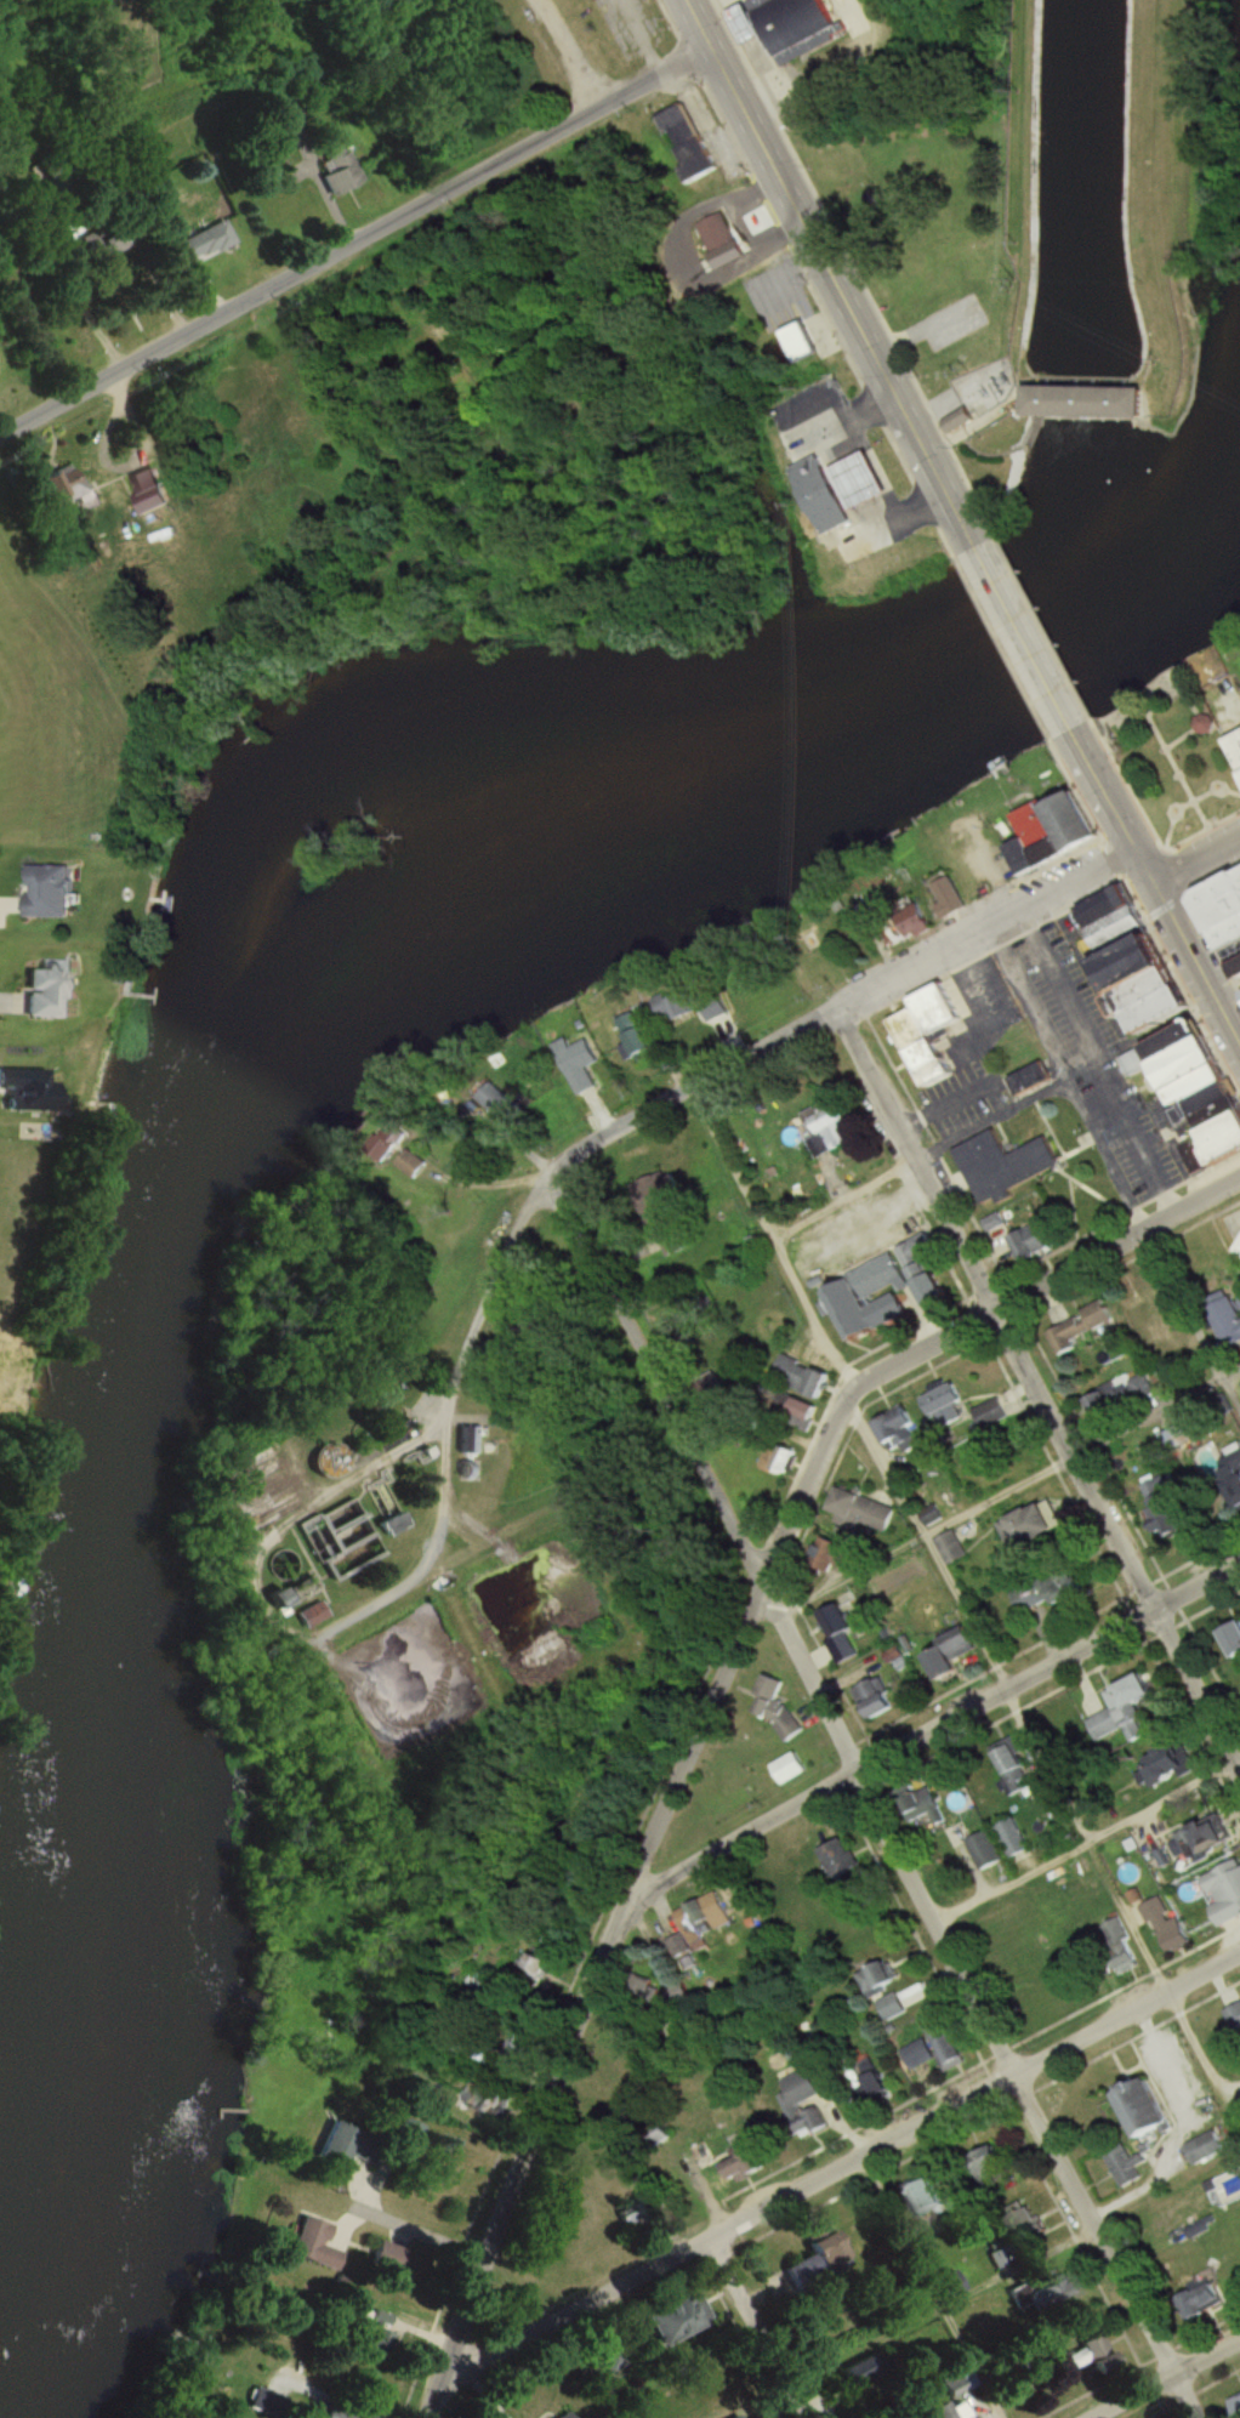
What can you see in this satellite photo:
building: (787, 25)
road: (639, 40)
road: (565, 57)
building: (294, 115)
building: (687, 143)
building: (342, 173)
road: (322, 187)
building: (716, 234)
building: (103, 243)
building: (205, 243)
road: (355, 248)
road: (824, 266)
building: (802, 337)
crop: (8, 365)
building: (1081, 393)
building: (864, 480)
building: (67, 488)
building: (825, 494)
building: (152, 500)
road: (1020, 635)
building: (1204, 726)
building: (1236, 744)
road: (1105, 792)
building: (1057, 834)
road: (1194, 849)
building: (47, 891)
building: (950, 898)
road: (5, 901)
building: (1227, 917)
road: (1187, 948)
building: (1141, 963)
building: (49, 990)
road: (1227, 992)
road: (5, 1002)
building: (677, 1005)
road: (834, 1013)
building: (925, 1026)
building: (638, 1036)
road: (1090, 1063)
building: (584, 1069)
building: (1198, 1094)
road: (1003, 1113)
building: (831, 1128)
river: (198, 1132)
building: (1000, 1160)
building: (411, 1164)
road: (843, 1199)
road: (770, 1236)
building: (672, 1238)
building: (1031, 1241)
building: (1238, 1250)
building: (926, 1270)
building: (870, 1298)
road: (482, 1301)
road: (1183, 1301)
building: (1229, 1319)
building: (1154, 1320)
building: (1081, 1327)
road: (950, 1332)
building: (803, 1376)
road: (1035, 1376)
road: (1232, 1390)
building: (1120, 1396)
building: (946, 1404)
road: (1157, 1406)
building: (804, 1410)
building: (989, 1415)
building: (898, 1429)
building: (1183, 1435)
building: (471, 1439)
building: (780, 1458)
building: (331, 1460)
building: (1233, 1472)
road: (997, 1490)
building: (1165, 1504)
building: (864, 1508)
building: (931, 1517)
building: (397, 1524)
building: (1036, 1524)
road: (926, 1546)
building: (950, 1548)
building: (834, 1553)
building: (1051, 1591)
building: (312, 1614)
building: (838, 1621)
building: (1233, 1640)
building: (956, 1654)
building: (766, 1695)
building: (876, 1699)
building: (1125, 1708)
road: (931, 1729)
building: (786, 1766)
building: (1012, 1769)
building: (929, 1802)
road: (874, 1805)
building: (1013, 1838)
road: (1087, 1839)
road: (1080, 1842)
building: (1200, 1843)
building: (986, 1851)
building: (841, 1859)
building: (1224, 1905)
building: (1167, 1924)
building: (689, 1925)
building: (1196, 1927)
building: (677, 1946)
building: (525, 1976)
building: (877, 1979)
building: (677, 1995)
road: (586, 1998)
building: (892, 2007)
building: (1234, 2018)
road: (421, 2030)
building: (512, 2046)
building: (949, 2053)
building: (877, 2089)
building: (483, 2101)
building: (802, 2104)
building: (1144, 2110)
road: (1178, 2123)
building: (349, 2146)
building: (1204, 2149)
building: (995, 2158)
road: (841, 2164)
building: (746, 2166)
building: (1124, 2167)
building: (929, 2195)
building: (631, 2214)
building: (1198, 2229)
road: (421, 2235)
building: (315, 2245)
building: (391, 2255)
building: (820, 2261)
building: (952, 2285)
building: (1054, 2297)
building: (1206, 2298)
road: (943, 2306)
building: (679, 2317)
road: (758, 2326)
building: (380, 2335)
building: (1087, 2354)
road: (1164, 2377)
building: (1236, 2405)
building: (335, 2413)
building: (568, 2414)
building: (766, 2417)

